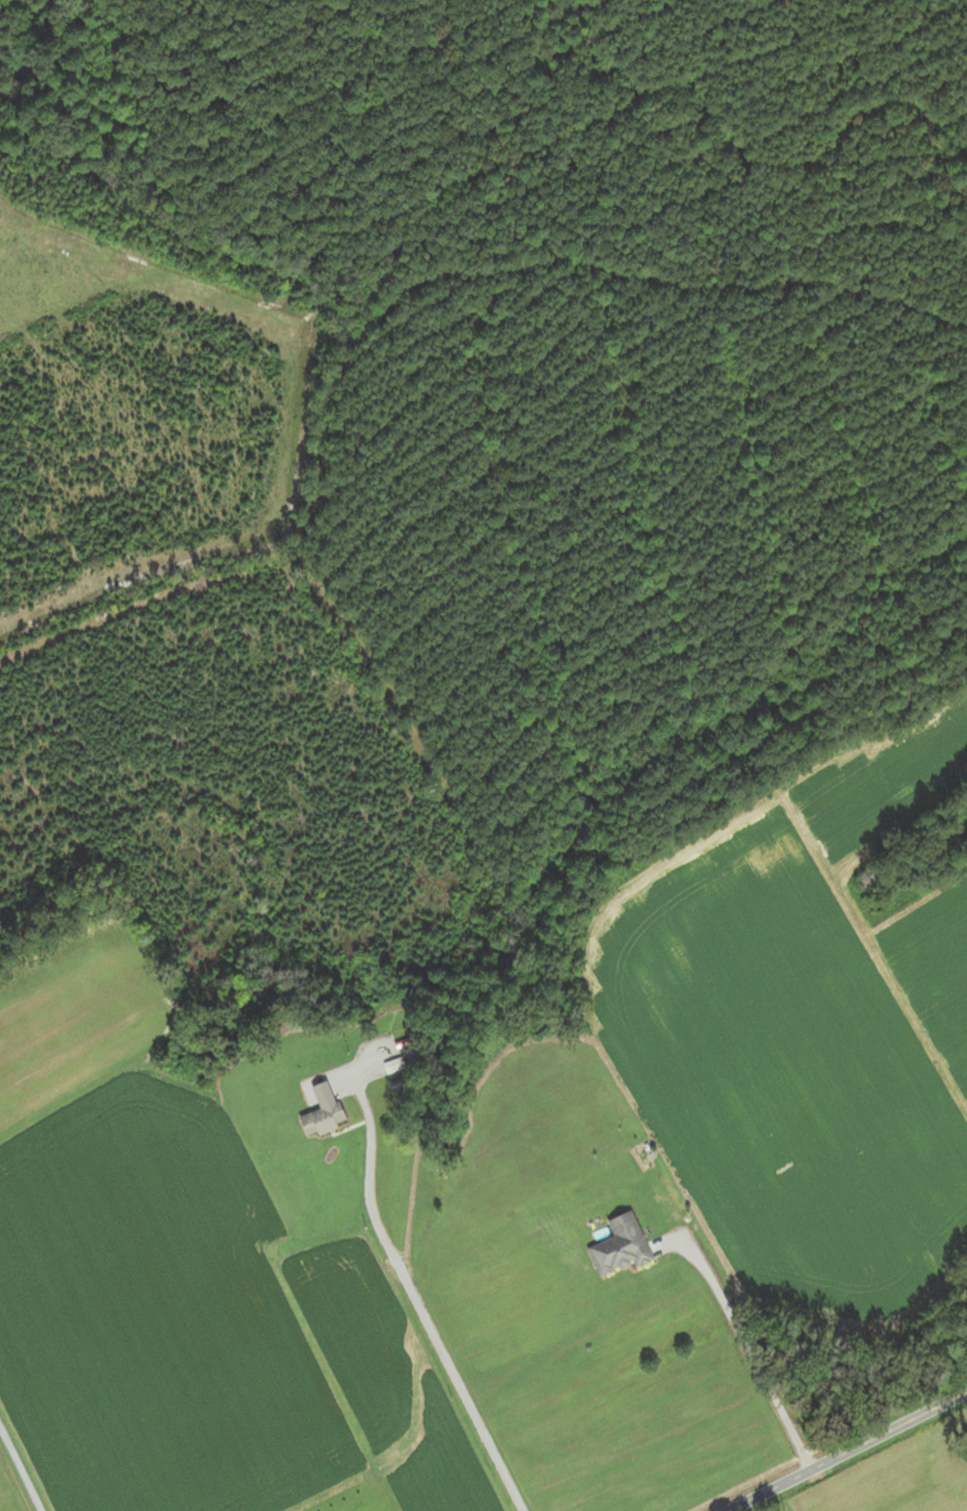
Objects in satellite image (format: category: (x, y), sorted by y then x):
building: (315, 1094)
building: (324, 1121)
building: (621, 1246)
road: (419, 1305)
road: (749, 1354)
road: (846, 1450)
road: (21, 1468)

